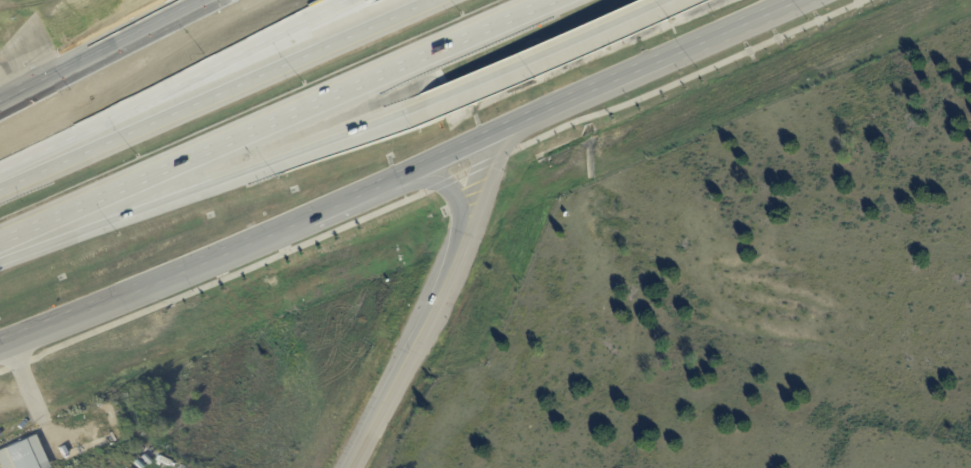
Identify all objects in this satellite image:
road: (792, 2)
road: (488, 33)
road: (130, 35)
road: (551, 53)
road: (658, 61)
road: (30, 86)
road: (171, 86)
road: (209, 91)
road: (455, 150)
road: (206, 155)
road: (491, 174)
road: (216, 182)
road: (451, 187)
road: (430, 189)
road: (196, 264)
road: (408, 349)
building: (22, 454)

